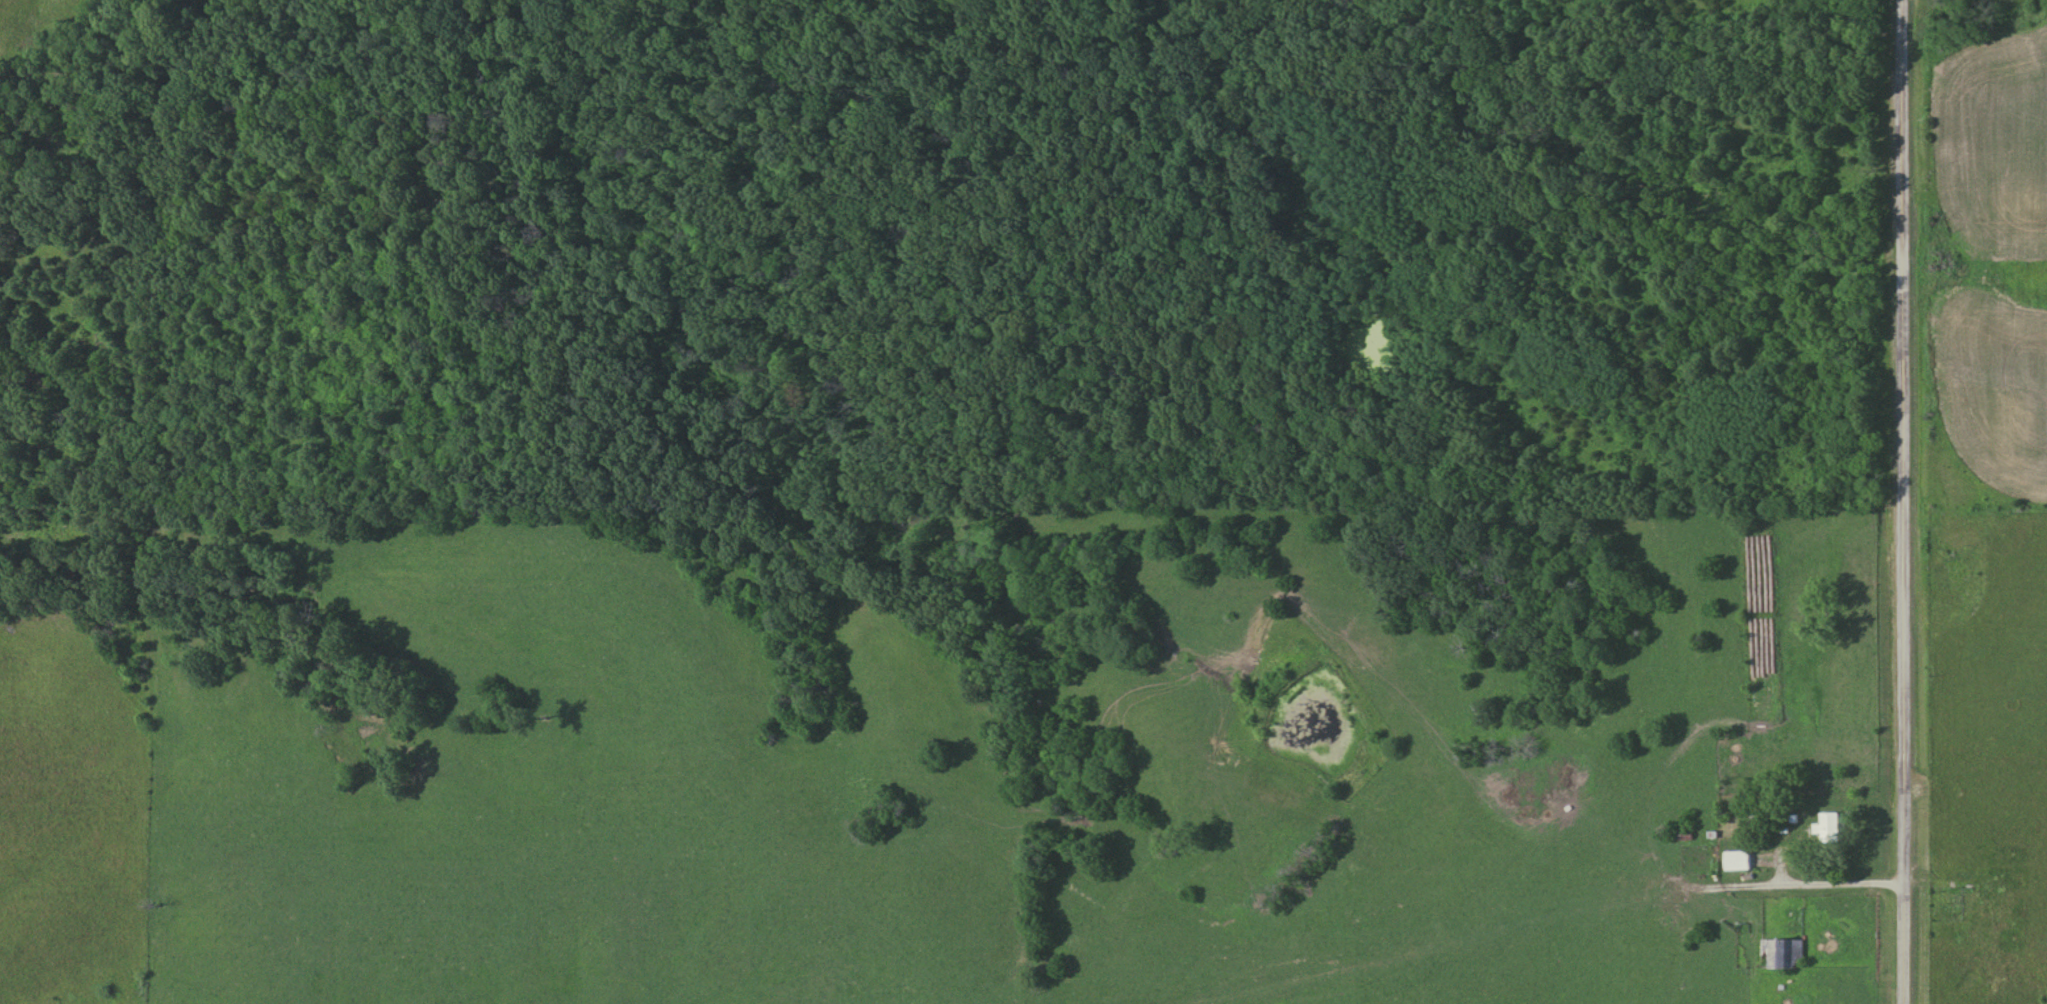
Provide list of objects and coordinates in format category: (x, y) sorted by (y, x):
road: (1899, 502)
building: (1827, 828)
building: (1735, 861)
building: (1781, 955)

